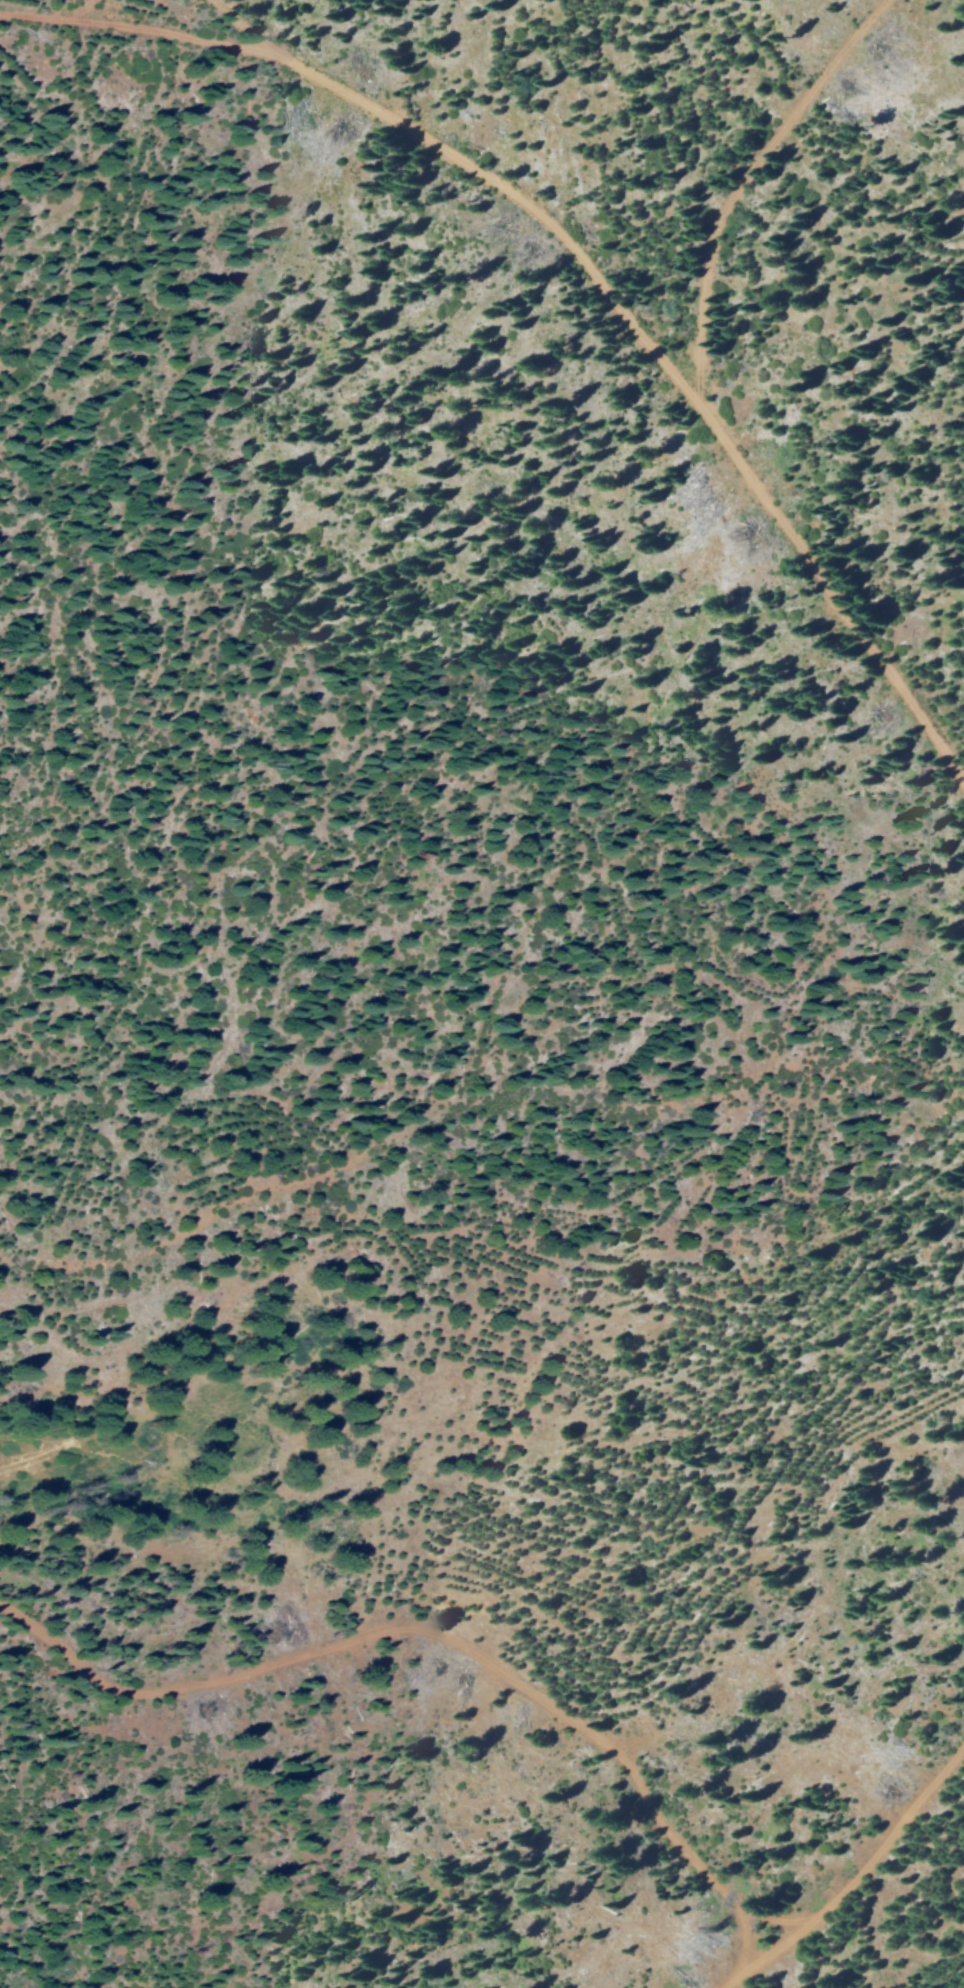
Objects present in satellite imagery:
road: (241, 21)
road: (143, 29)
road: (672, 347)
road: (441, 1637)
road: (854, 1876)

